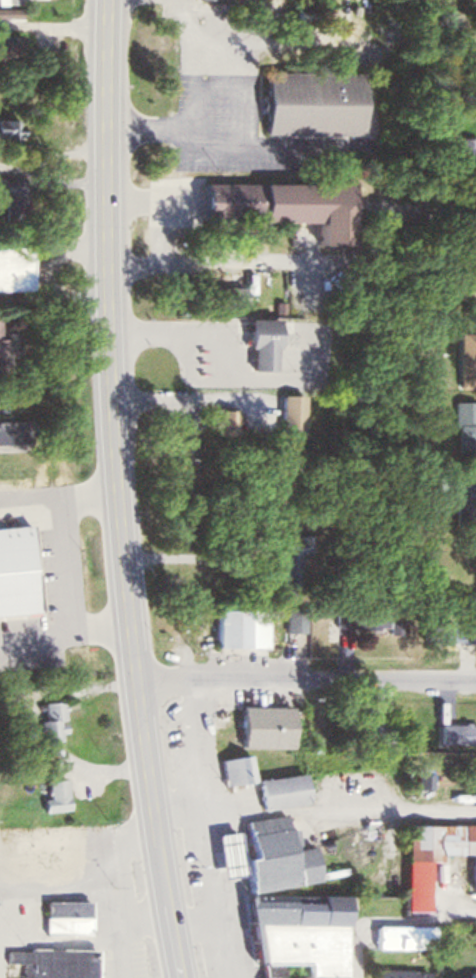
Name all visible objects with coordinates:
building: (9, 2)
building: (8, 12)
building: (366, 33)
building: (8, 44)
building: (305, 102)
building: (7, 129)
building: (464, 149)
building: (10, 195)
building: (278, 203)
building: (11, 267)
building: (254, 341)
building: (4, 350)
building: (465, 359)
building: (284, 412)
building: (220, 420)
building: (462, 425)
building: (12, 429)
road: (114, 491)
building: (454, 496)
building: (289, 559)
building: (292, 618)
building: (257, 619)
building: (225, 625)
building: (447, 633)
road: (305, 675)
building: (51, 719)
building: (251, 725)
building: (456, 732)
building: (474, 768)
building: (260, 781)
building: (53, 793)
building: (43, 845)
building: (223, 852)
building: (270, 853)
building: (433, 853)
building: (63, 916)
building: (403, 935)
building: (51, 961)
building: (405, 973)
building: (470, 973)

